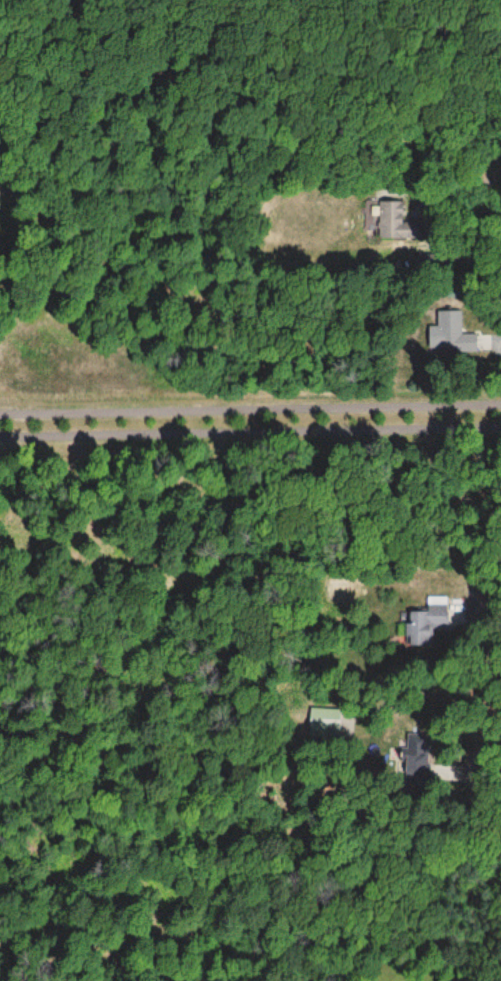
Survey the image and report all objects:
building: (395, 222)
building: (452, 333)
road: (250, 408)
road: (250, 435)
building: (425, 621)
building: (331, 723)

